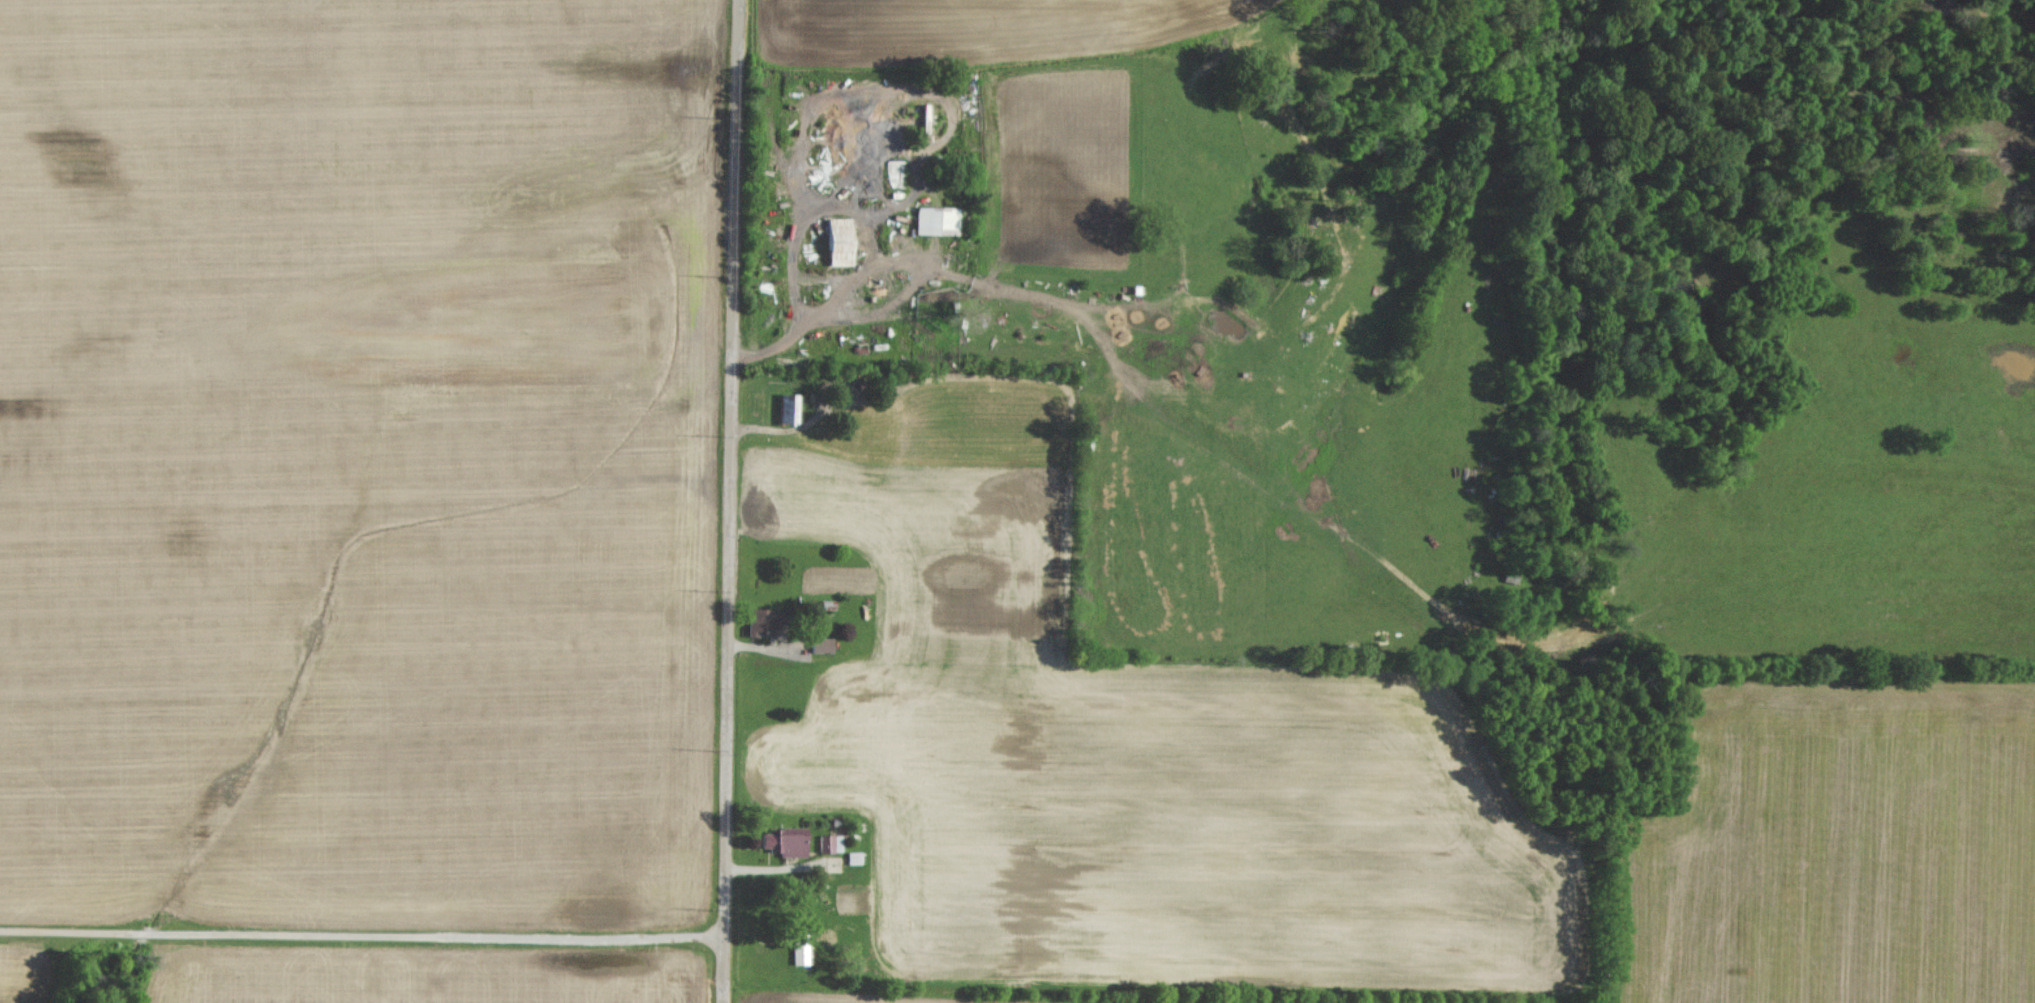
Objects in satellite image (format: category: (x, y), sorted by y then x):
building: (934, 218)
building: (836, 240)
road: (895, 390)
road: (724, 501)
building: (756, 620)
road: (359, 936)
building: (799, 949)

